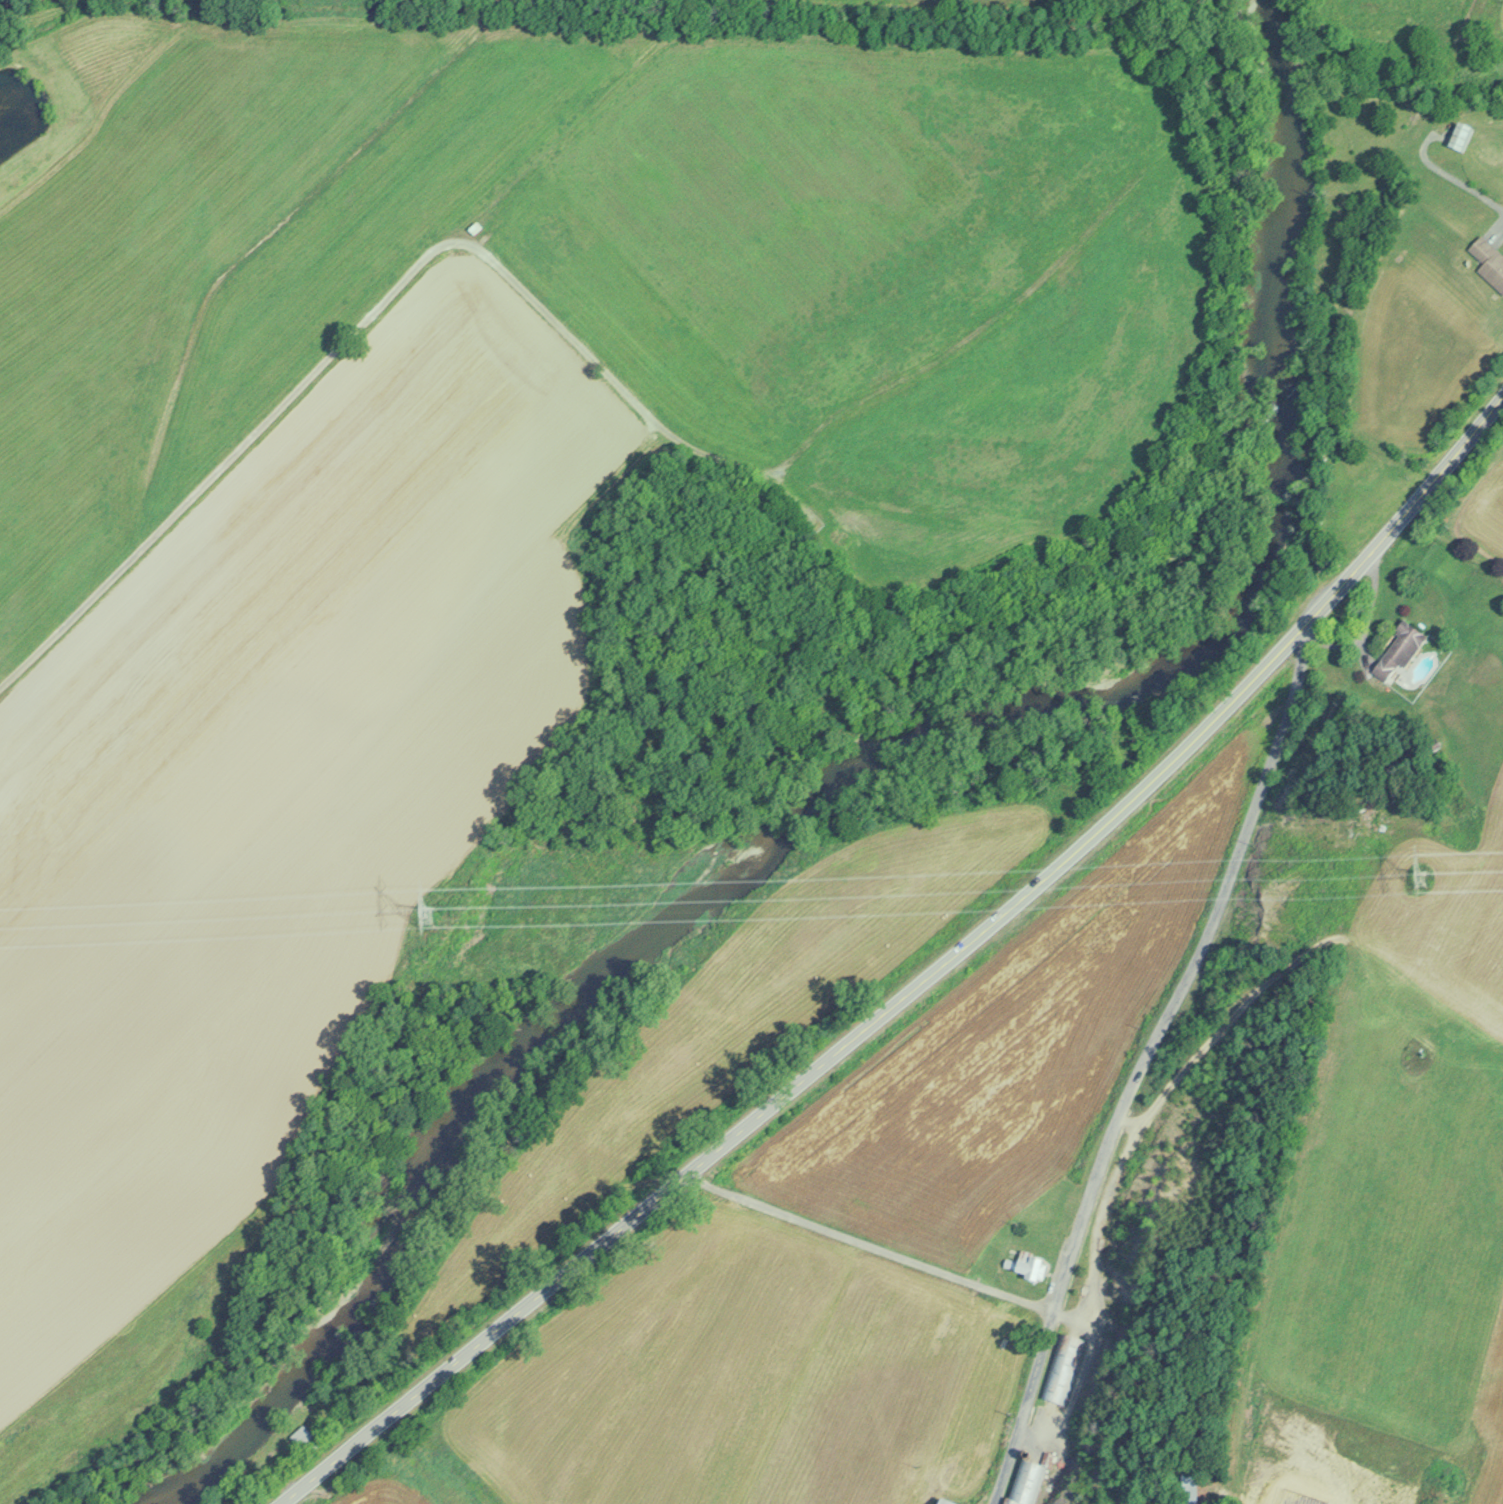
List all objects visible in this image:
building: (1459, 135)
building: (1489, 261)
road: (517, 283)
river: (1231, 593)
road: (1278, 649)
building: (1397, 651)
power tower: (1418, 874)
power tower: (429, 913)
road: (1139, 1063)
road: (655, 1195)
road: (868, 1239)
building: (1025, 1266)
building: (1060, 1367)
building: (302, 1440)
building: (1024, 1482)
building: (1187, 1487)

